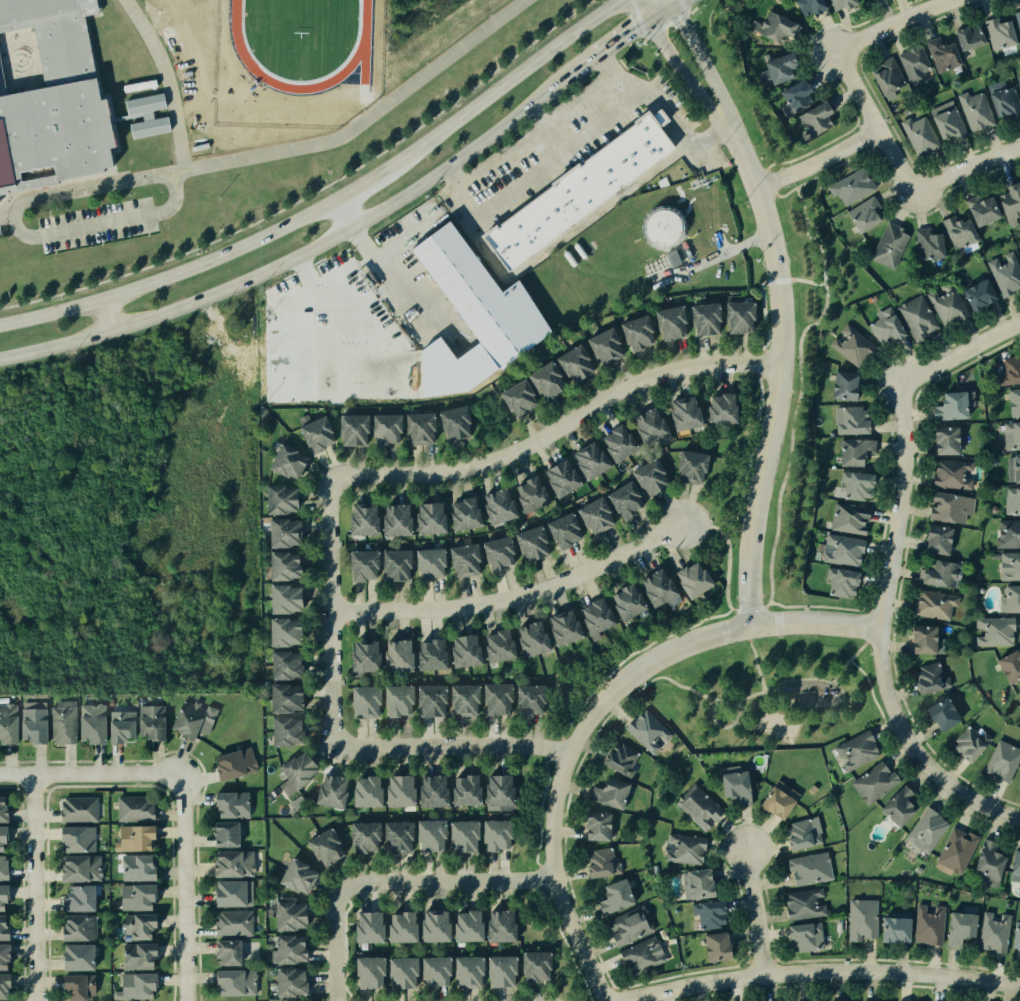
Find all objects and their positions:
building: (864, 1)
building: (840, 6)
road: (656, 7)
building: (807, 7)
traffic signals: (661, 14)
building: (1015, 19)
road: (893, 23)
building: (771, 26)
building: (996, 30)
road: (630, 34)
building: (968, 39)
building: (939, 53)
road: (702, 65)
building: (913, 65)
building: (769, 67)
building: (881, 74)
road: (682, 76)
road: (616, 78)
road: (166, 80)
building: (1017, 81)
building: (789, 96)
building: (53, 100)
building: (1002, 100)
building: (974, 111)
building: (147, 115)
building: (813, 119)
road: (363, 120)
building: (945, 121)
road: (871, 123)
road: (546, 129)
building: (914, 130)
road: (574, 144)
road: (814, 161)
road: (967, 172)
building: (850, 185)
building: (574, 188)
building: (1005, 199)
road: (334, 203)
building: (979, 211)
building: (863, 214)
road: (47, 215)
road: (572, 227)
building: (663, 227)
building: (957, 231)
road: (19, 233)
building: (926, 238)
building: (887, 245)
road: (306, 252)
road: (707, 260)
building: (456, 270)
building: (1003, 273)
road: (389, 277)
road: (777, 280)
road: (806, 280)
road: (763, 281)
building: (975, 292)
building: (943, 303)
building: (914, 314)
road: (763, 315)
road: (104, 316)
building: (737, 316)
building: (704, 317)
building: (665, 321)
building: (887, 323)
building: (633, 332)
building: (848, 341)
building: (601, 344)
road: (763, 349)
road: (958, 354)
building: (570, 359)
building: (1007, 362)
road: (763, 363)
road: (777, 371)
building: (540, 377)
road: (759, 377)
park: (805, 379)
building: (838, 382)
road: (799, 392)
building: (514, 397)
building: (1004, 399)
building: (948, 400)
building: (717, 406)
building: (678, 412)
building: (852, 417)
building: (455, 423)
building: (645, 425)
road: (557, 426)
building: (386, 428)
building: (420, 428)
building: (353, 430)
building: (315, 431)
building: (1010, 434)
building: (940, 439)
building: (614, 441)
building: (854, 451)
road: (749, 458)
building: (586, 459)
building: (288, 461)
building: (687, 466)
building: (1011, 466)
building: (645, 474)
building: (950, 474)
building: (557, 477)
building: (852, 484)
building: (525, 491)
building: (619, 496)
building: (282, 499)
building: (1005, 500)
building: (493, 504)
building: (944, 508)
building: (590, 512)
building: (459, 514)
building: (425, 517)
building: (359, 518)
building: (391, 519)
building: (846, 519)
building: (558, 527)
building: (277, 532)
building: (1007, 532)
building: (932, 539)
building: (527, 543)
park: (719, 551)
building: (841, 552)
building: (493, 554)
road: (727, 559)
building: (458, 561)
building: (426, 563)
building: (357, 565)
building: (1009, 565)
building: (278, 566)
building: (391, 566)
building: (933, 573)
building: (690, 578)
building: (841, 582)
building: (654, 586)
road: (871, 597)
building: (1009, 597)
road: (511, 599)
building: (622, 599)
building: (279, 600)
road: (817, 605)
road: (328, 606)
building: (928, 606)
road: (868, 607)
building: (591, 613)
building: (561, 627)
building: (992, 630)
building: (278, 632)
road: (878, 636)
building: (529, 637)
building: (917, 639)
building: (495, 646)
building: (462, 649)
building: (428, 653)
road: (629, 653)
road: (854, 653)
building: (361, 656)
building: (395, 656)
road: (753, 657)
building: (279, 665)
building: (1007, 666)
building: (923, 674)
road: (776, 686)
road: (869, 687)
park: (766, 692)
building: (281, 698)
building: (493, 698)
building: (527, 700)
building: (393, 701)
building: (426, 701)
building: (460, 701)
building: (1019, 701)
building: (360, 702)
road: (594, 710)
building: (938, 714)
building: (193, 719)
building: (33, 722)
building: (152, 722)
building: (8, 723)
building: (62, 723)
building: (91, 724)
building: (121, 726)
park: (776, 727)
road: (722, 728)
building: (646, 729)
building: (283, 732)
road: (448, 745)
building: (965, 745)
building: (855, 750)
building: (617, 757)
building: (1000, 761)
building: (235, 764)
building: (296, 769)
road: (87, 774)
building: (732, 781)
building: (873, 782)
building: (329, 789)
building: (430, 790)
building: (494, 790)
building: (363, 791)
building: (398, 791)
building: (462, 791)
building: (606, 793)
building: (771, 802)
building: (130, 804)
building: (698, 804)
building: (230, 805)
building: (895, 805)
building: (76, 808)
building: (0, 813)
building: (592, 826)
building: (800, 830)
building: (925, 832)
building: (494, 834)
building: (224, 835)
building: (432, 835)
building: (465, 835)
building: (399, 836)
building: (132, 837)
building: (366, 837)
building: (1, 839)
building: (74, 839)
building: (683, 845)
building: (327, 847)
building: (954, 850)
building: (597, 857)
building: (985, 861)
building: (230, 863)
building: (132, 866)
building: (806, 866)
building: (1012, 866)
building: (3, 869)
building: (76, 869)
building: (300, 877)
building: (694, 881)
road: (443, 884)
road: (34, 888)
road: (183, 890)
building: (226, 892)
building: (611, 896)
building: (1, 897)
building: (134, 897)
building: (74, 898)
building: (802, 903)
road: (753, 911)
building: (708, 913)
building: (291, 916)
building: (859, 918)
building: (233, 923)
building: (926, 924)
building: (463, 925)
building: (495, 925)
building: (956, 925)
building: (890, 926)
building: (3, 927)
building: (132, 927)
building: (365, 927)
building: (397, 927)
building: (431, 927)
building: (76, 928)
building: (626, 928)
building: (990, 932)
building: (796, 936)
building: (1015, 940)
road: (336, 945)
building: (711, 945)
building: (290, 951)
building: (225, 953)
building: (641, 955)
building: (72, 956)
building: (134, 956)
building: (2, 957)
building: (530, 964)
building: (430, 970)
building: (362, 972)
building: (464, 972)
building: (496, 972)
road: (820, 973)
building: (397, 974)
building: (292, 982)
building: (231, 983)
building: (132, 985)
building: (3, 987)
building: (74, 987)
building: (719, 1000)
building: (841, 1000)

